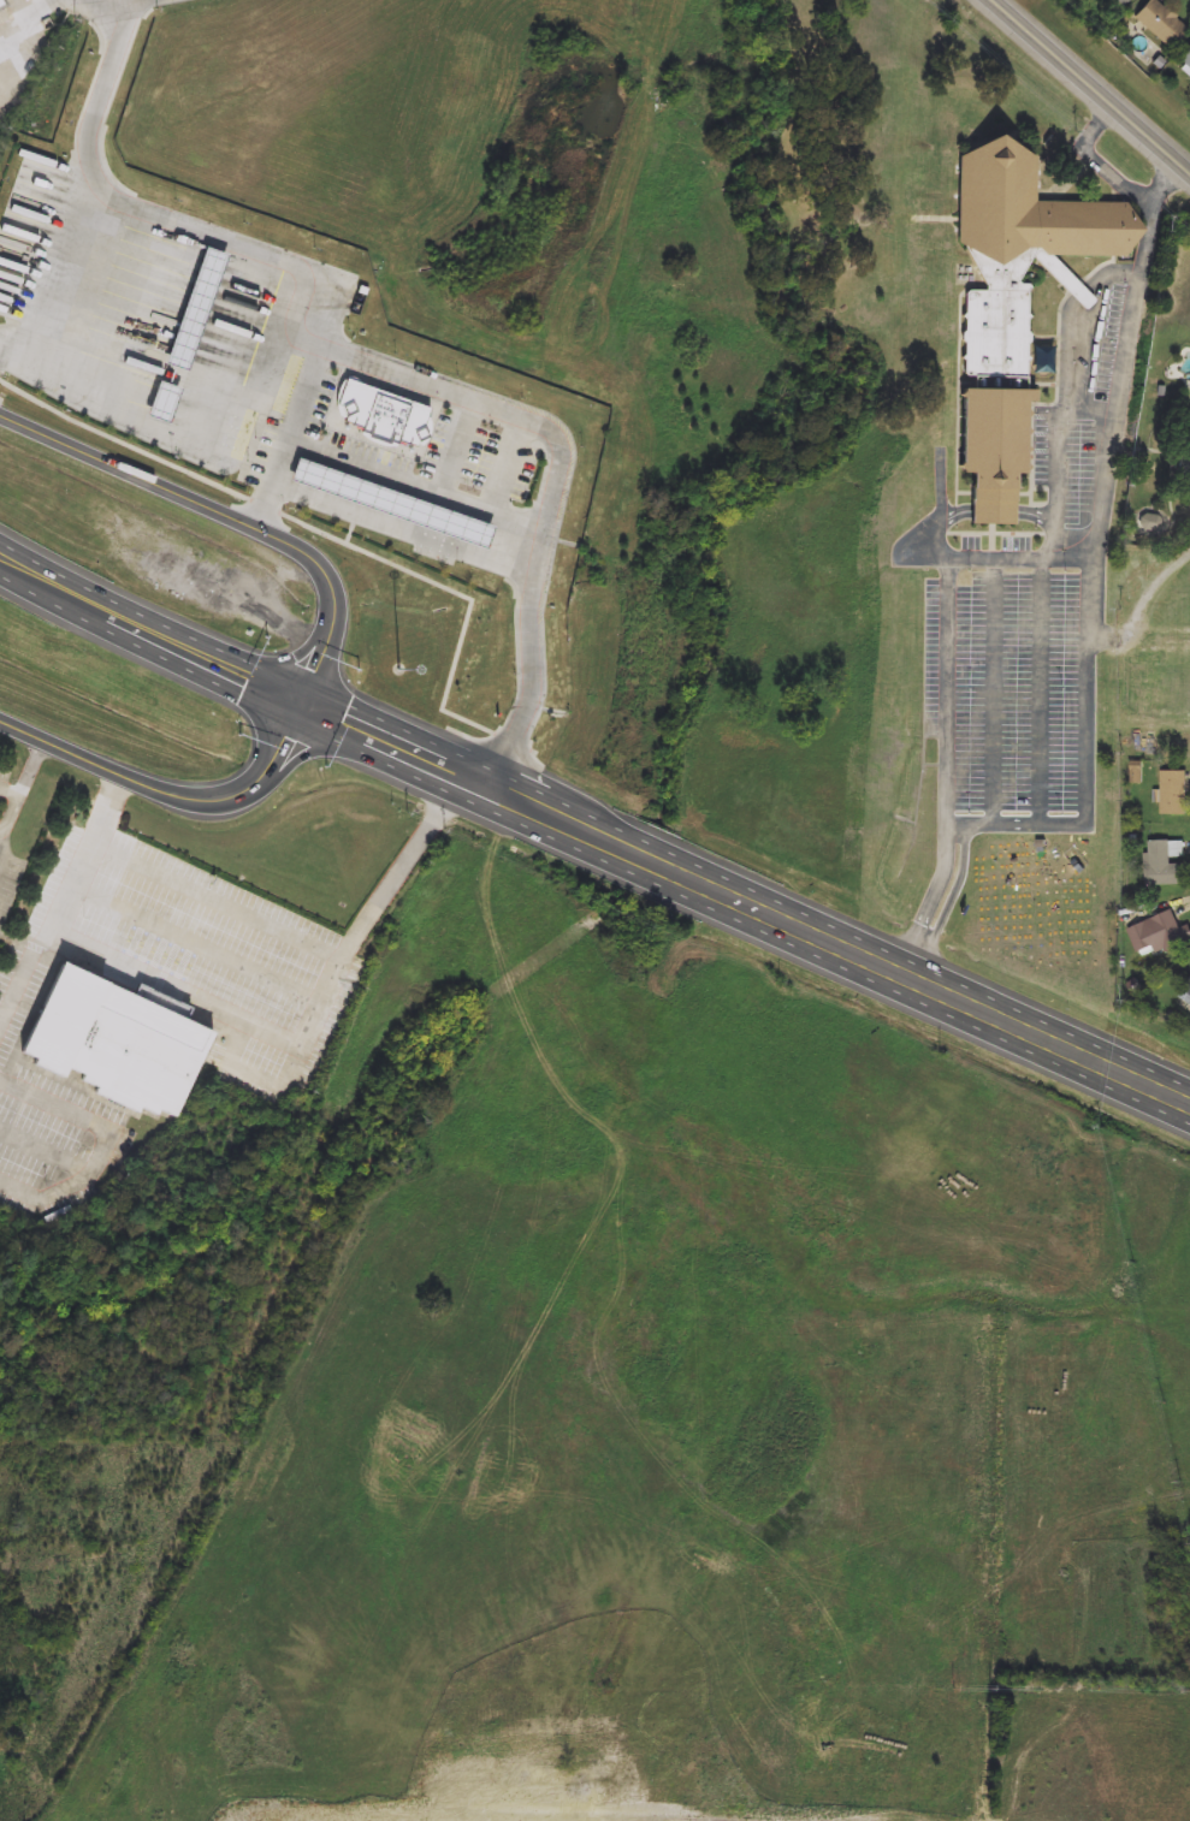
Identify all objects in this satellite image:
road: (99, 1)
building: (1120, 2)
building: (1, 7)
road: (23, 8)
road: (29, 16)
building: (1160, 23)
building: (1185, 60)
road: (1091, 84)
road: (1115, 178)
road: (85, 185)
road: (230, 238)
building: (1011, 306)
road: (1077, 318)
building: (383, 410)
road: (515, 415)
road: (1060, 457)
building: (1180, 474)
road: (414, 479)
building: (391, 500)
gas station: (391, 500)
road: (942, 505)
road: (1000, 511)
building: (1151, 522)
road: (348, 530)
road: (332, 535)
road: (1087, 574)
road: (57, 587)
parking lot: (1023, 630)
road: (328, 643)
road: (290, 659)
road: (209, 660)
street lamp: (403, 672)
building: (1143, 681)
road: (996, 692)
road: (1042, 692)
traffic signals: (306, 700)
road: (947, 705)
road: (319, 747)
road: (35, 769)
road: (458, 769)
building: (1173, 794)
road: (8, 825)
road: (0, 832)
building: (1165, 864)
road: (219, 898)
road: (69, 907)
road: (365, 924)
railway: (390, 931)
building: (1160, 935)
road: (201, 942)
road: (900, 972)
road: (179, 990)
building: (1186, 991)
parking lot: (277, 1031)
building: (113, 1040)
road: (233, 1064)
road: (108, 1146)
road: (47, 1149)

